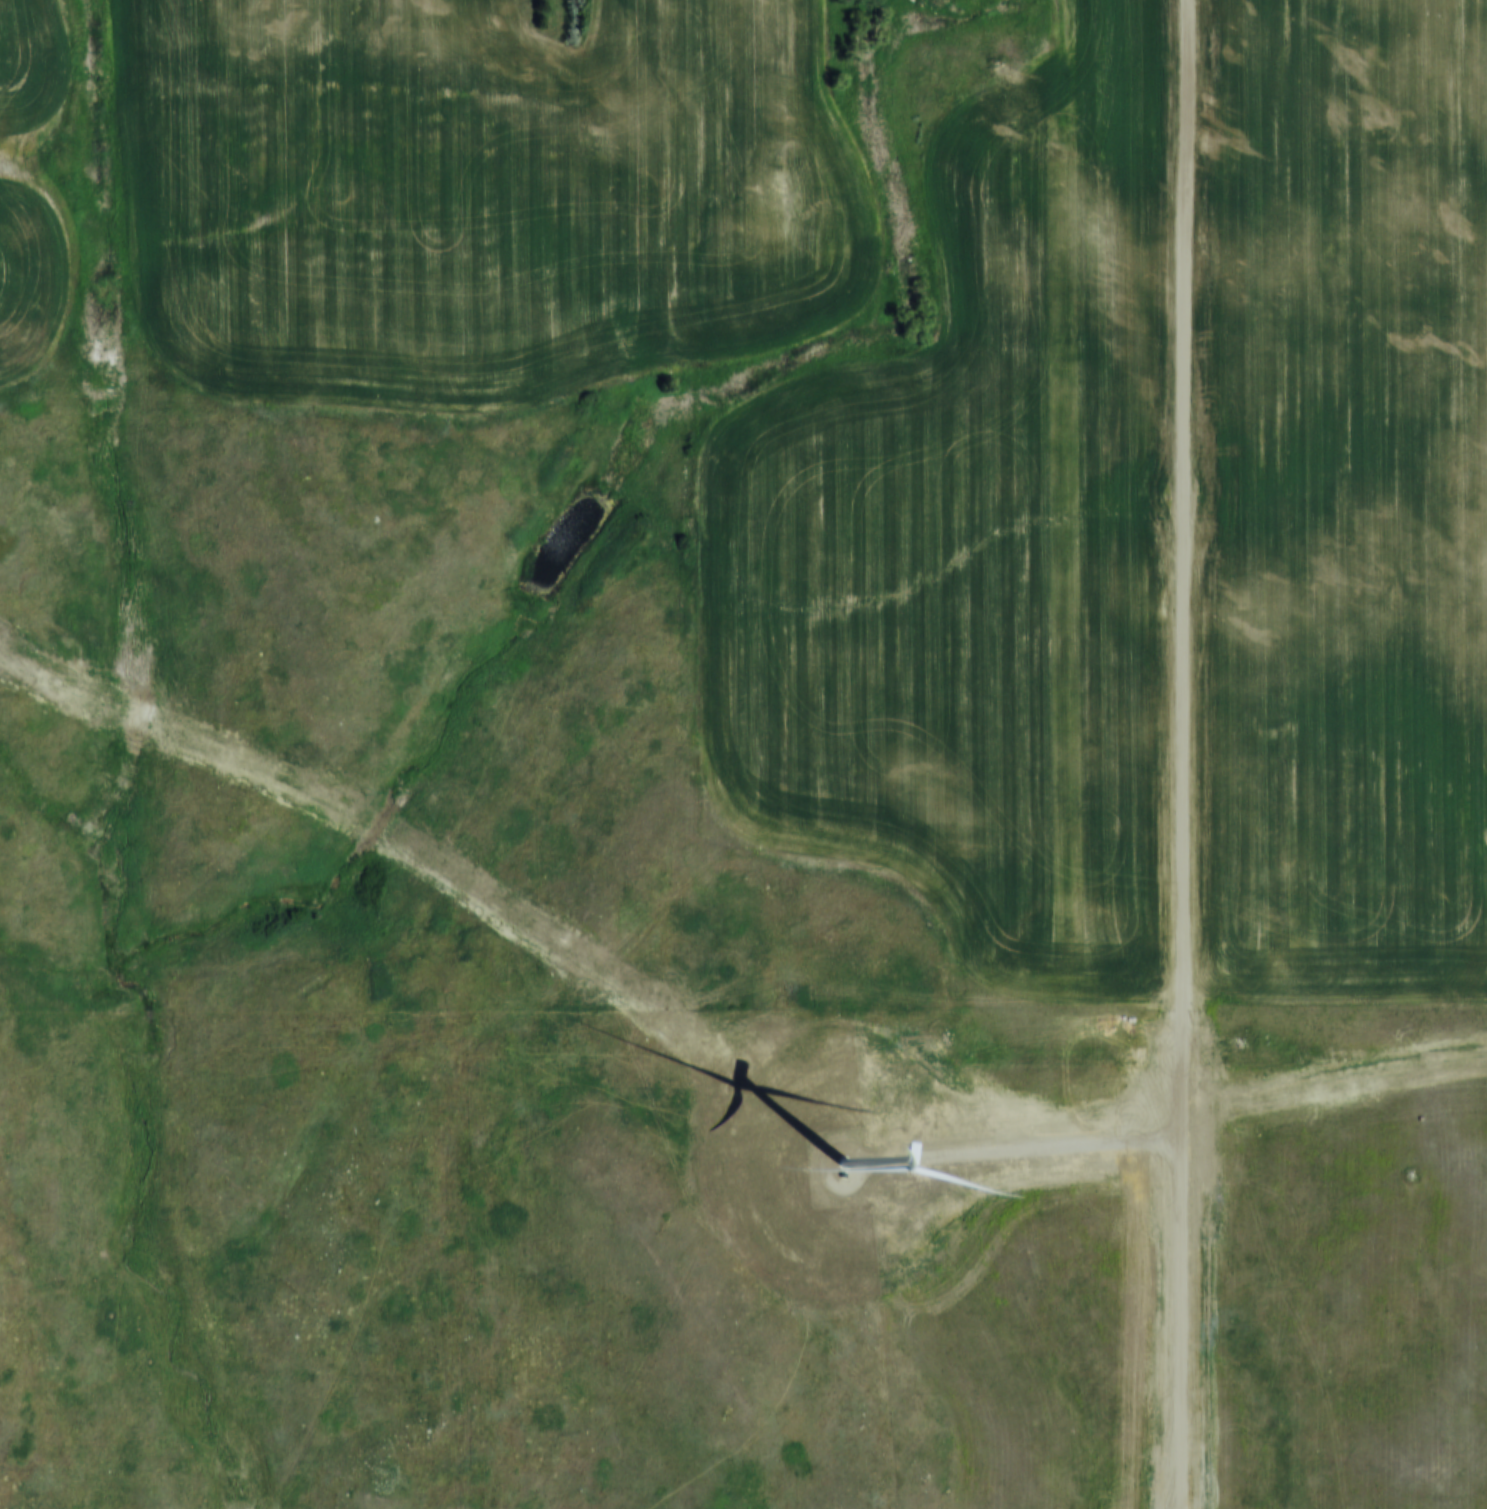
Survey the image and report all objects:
wind turbine: (839, 1167)

